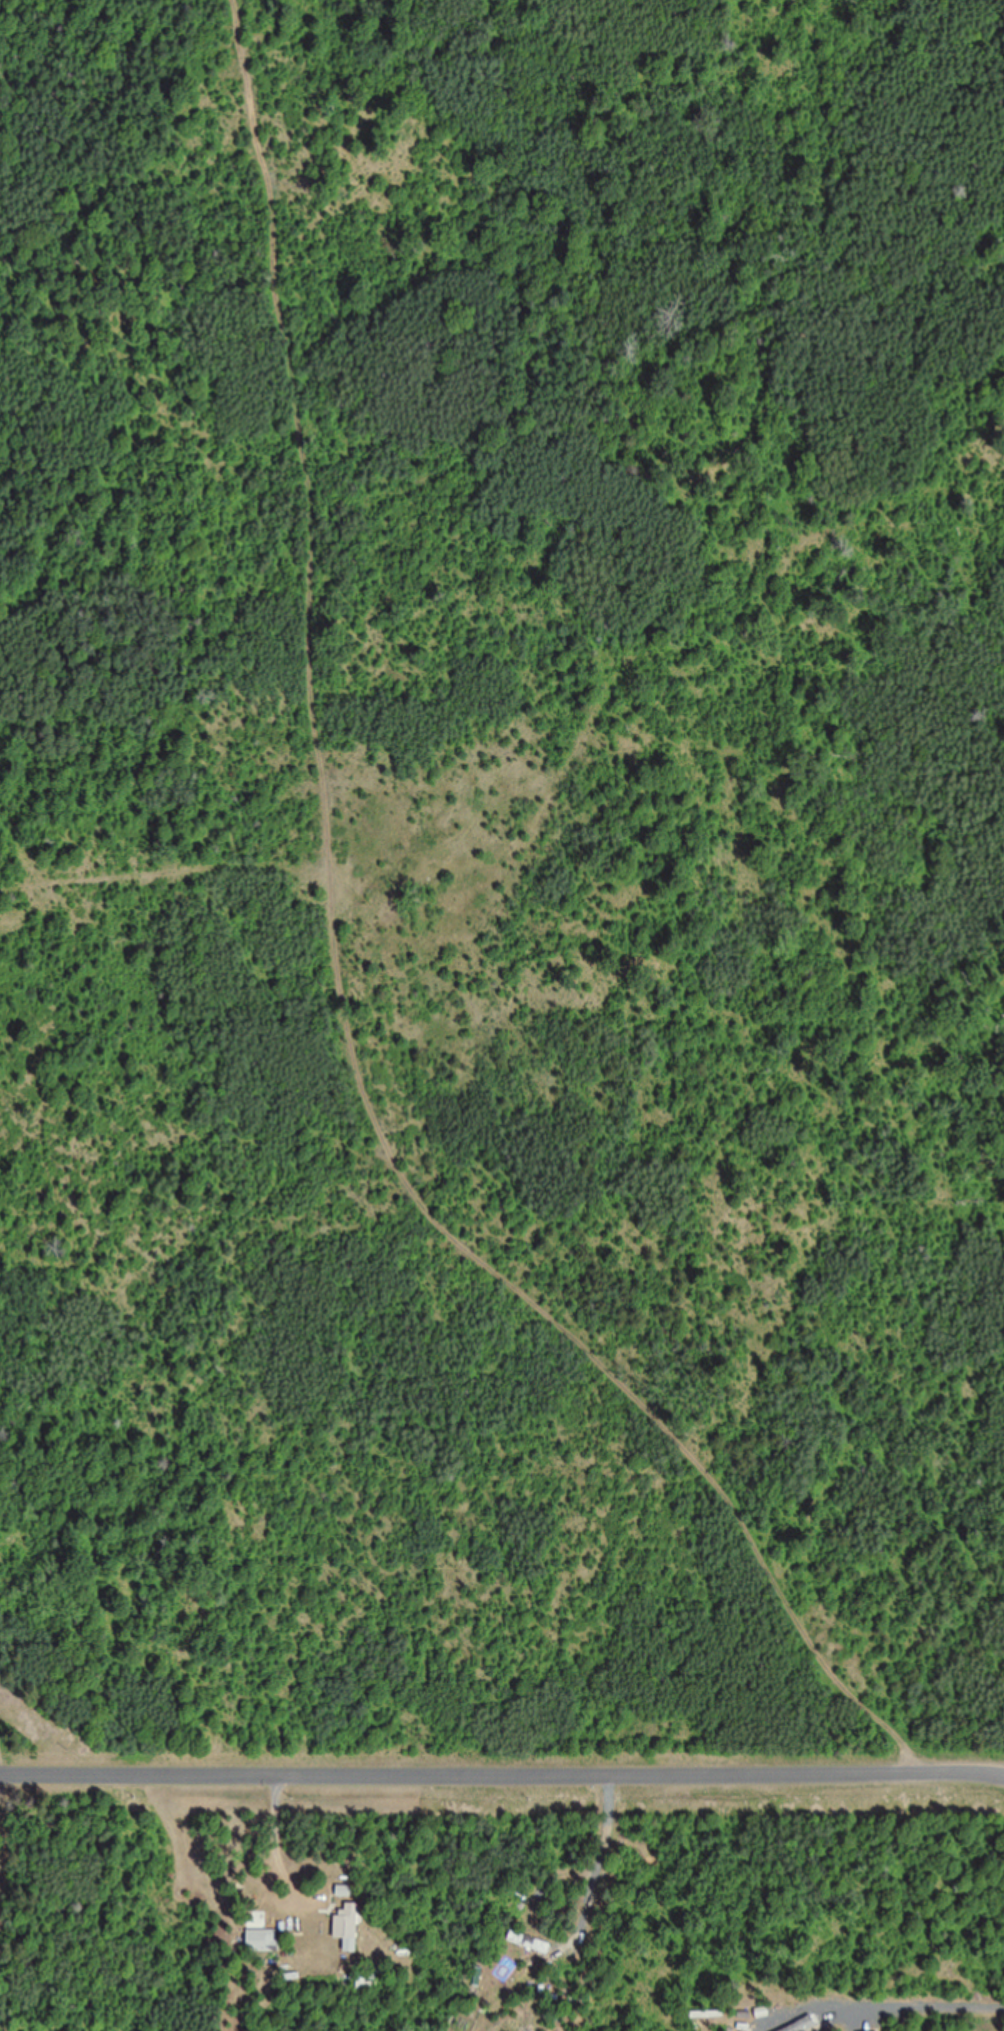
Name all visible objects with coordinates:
road: (351, 975)
road: (501, 1764)
building: (348, 1926)
building: (803, 2024)

